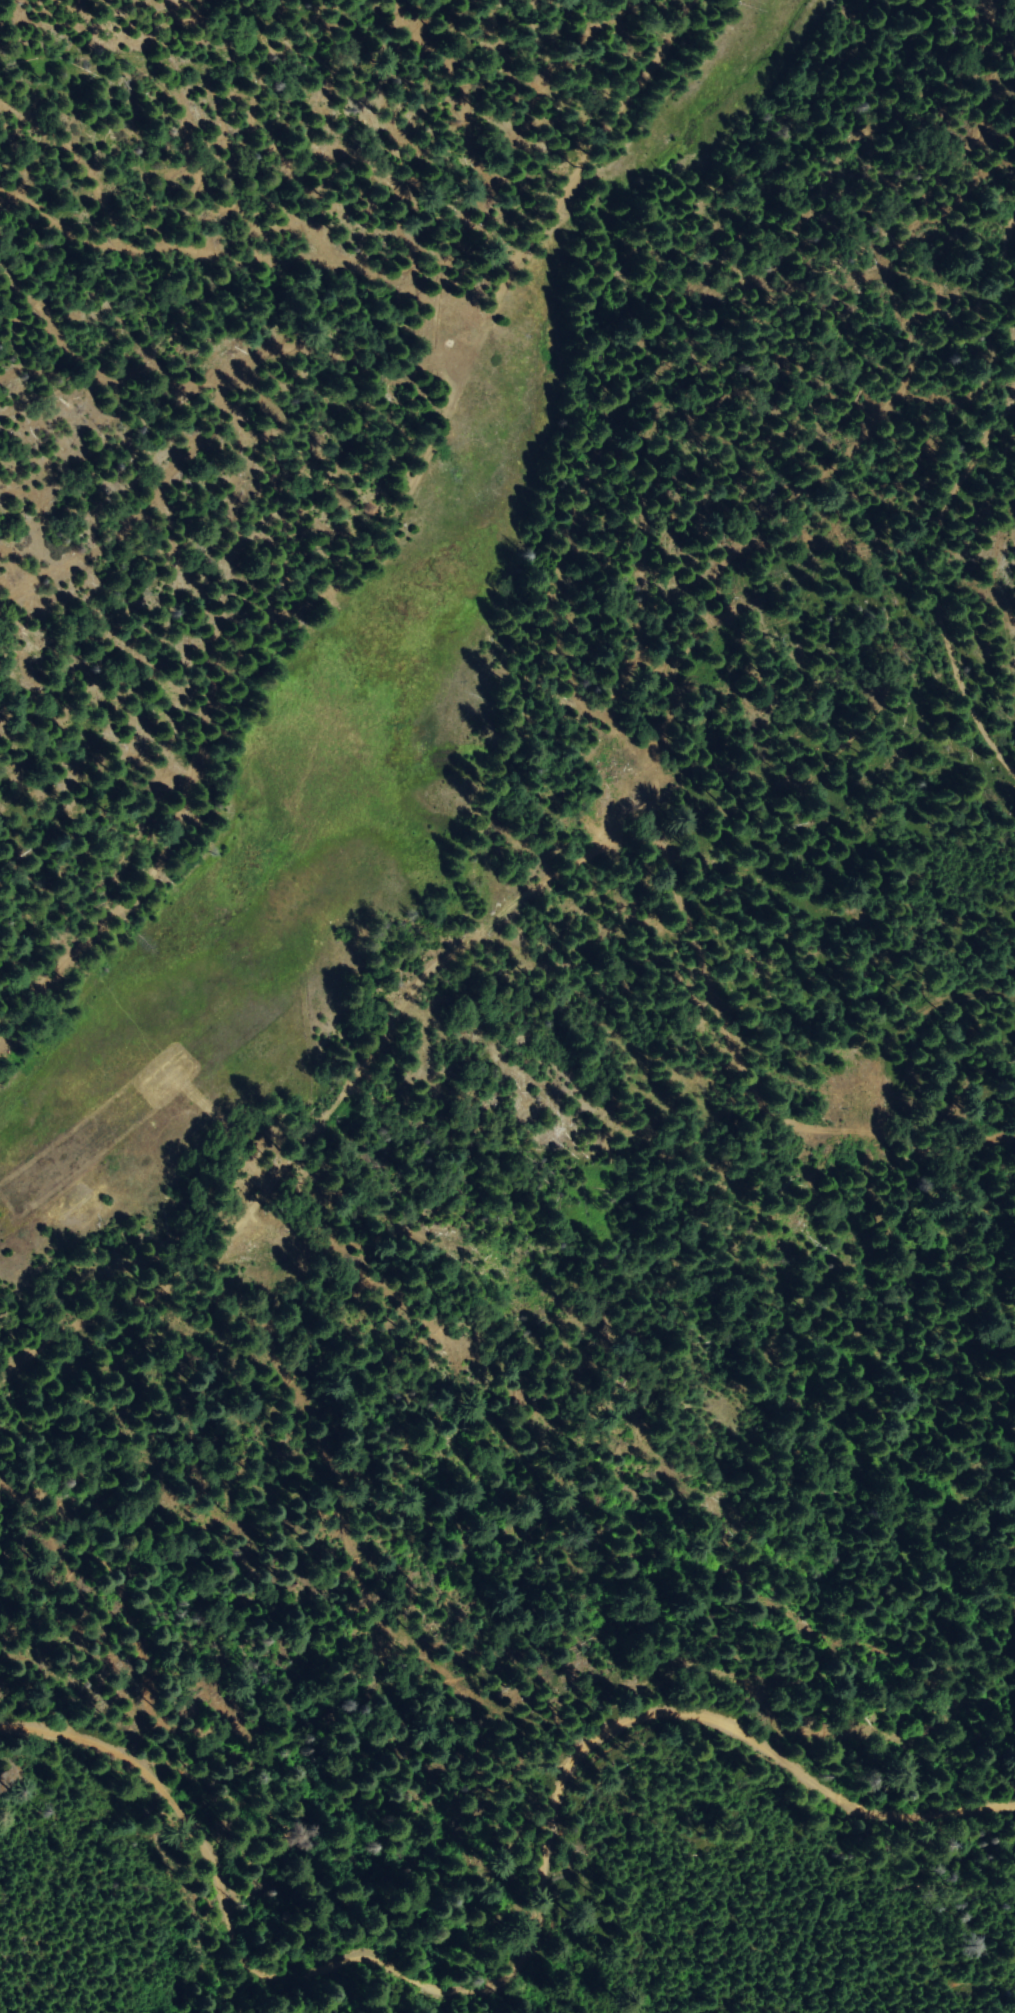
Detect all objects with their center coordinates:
road: (964, 596)

